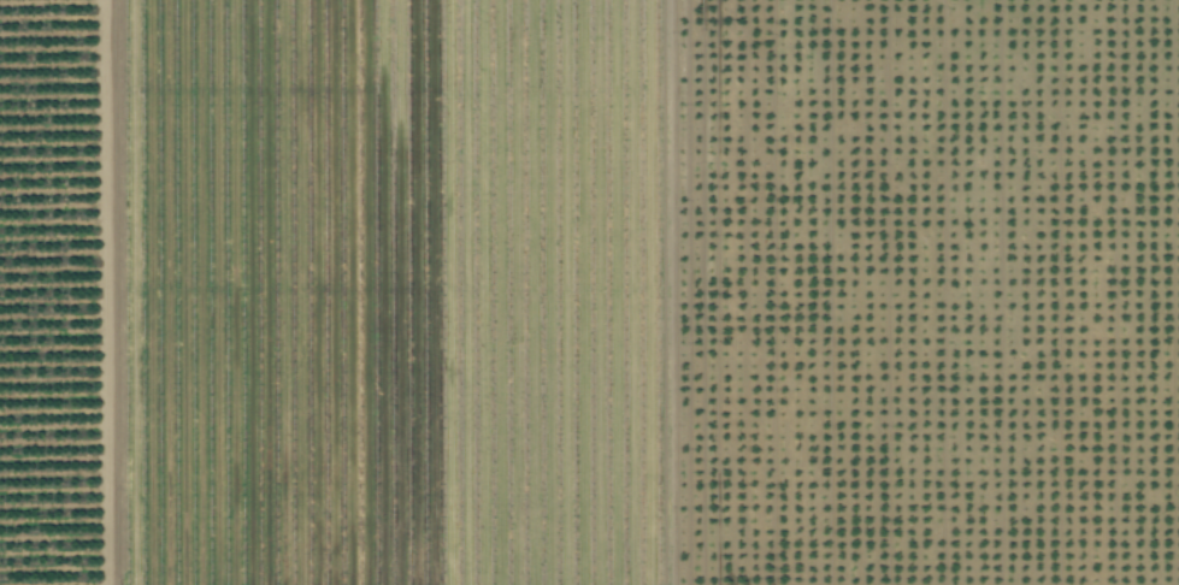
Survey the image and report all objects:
road: (105, 292)

